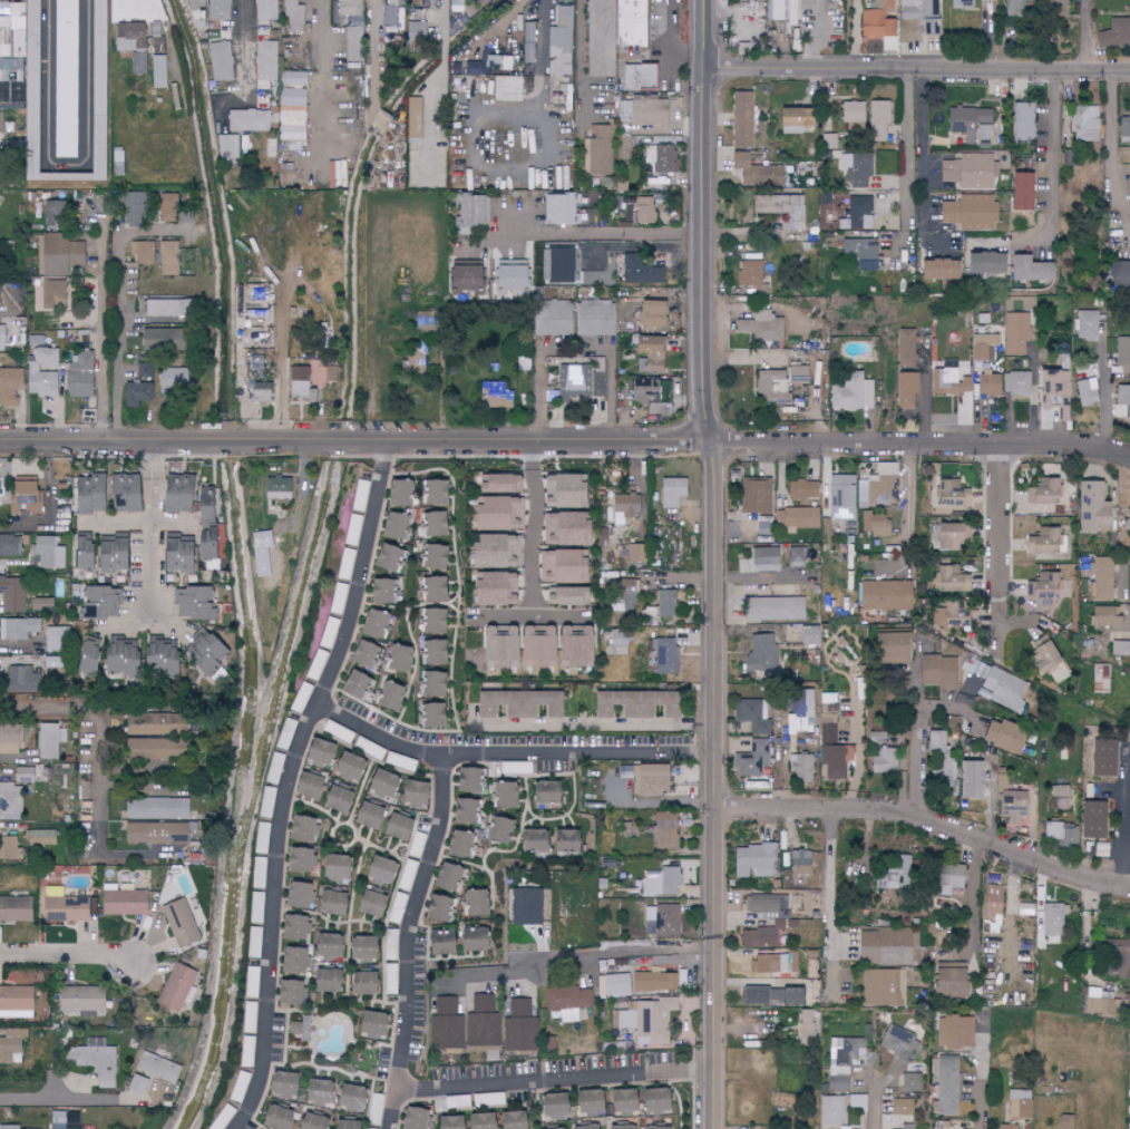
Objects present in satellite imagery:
building: (986, 0)
building: (1055, 1)
building: (961, 3)
building: (189, 4)
building: (351, 4)
building: (1013, 7)
building: (2, 8)
building: (776, 9)
building: (218, 10)
building: (266, 10)
building: (389, 12)
building: (790, 12)
building: (922, 14)
building: (294, 16)
building: (879, 22)
building: (415, 30)
building: (612, 32)
road: (1084, 32)
road: (322, 33)
building: (1114, 35)
building: (157, 38)
building: (562, 41)
building: (353, 43)
building: (133, 45)
road: (668, 45)
road: (246, 47)
road: (372, 52)
road: (540, 57)
building: (489, 59)
building: (266, 60)
building: (220, 61)
road: (581, 65)
road: (916, 66)
building: (474, 68)
building: (158, 71)
building: (637, 76)
building: (66, 78)
building: (26, 79)
building: (295, 79)
building: (499, 88)
road: (435, 90)
building: (803, 90)
building: (92, 98)
building: (647, 111)
building: (850, 111)
building: (292, 115)
road: (477, 115)
building: (413, 117)
building: (741, 119)
building: (877, 119)
building: (249, 120)
building: (792, 120)
building: (1, 121)
building: (965, 121)
building: (1020, 121)
building: (1083, 124)
building: (1124, 126)
building: (984, 133)
building: (829, 142)
building: (228, 146)
building: (624, 147)
building: (600, 150)
road: (919, 155)
road: (1053, 156)
road: (1099, 158)
building: (663, 159)
road: (65, 166)
building: (856, 169)
building: (970, 171)
building: (754, 172)
building: (338, 175)
building: (1090, 178)
building: (1019, 192)
building: (166, 207)
building: (557, 208)
building: (133, 210)
building: (782, 210)
building: (53, 211)
building: (325, 212)
building: (641, 212)
building: (970, 213)
building: (856, 214)
road: (603, 228)
building: (142, 252)
building: (859, 253)
building: (58, 254)
building: (168, 259)
building: (983, 263)
building: (557, 265)
building: (936, 270)
building: (1027, 270)
building: (636, 271)
building: (1121, 275)
building: (508, 276)
building: (461, 279)
building: (751, 279)
building: (51, 294)
road: (120, 305)
building: (163, 308)
building: (649, 313)
building: (553, 318)
building: (593, 319)
building: (1088, 325)
building: (762, 327)
building: (255, 333)
building: (1016, 333)
building: (1, 338)
building: (157, 340)
road: (280, 342)
building: (983, 347)
building: (905, 348)
road: (575, 350)
building: (646, 353)
building: (1122, 356)
building: (412, 362)
building: (523, 363)
building: (33, 370)
building: (144, 371)
building: (797, 374)
building: (79, 376)
building: (598, 378)
building: (173, 380)
building: (575, 380)
building: (952, 382)
building: (301, 383)
building: (988, 383)
building: (1016, 383)
building: (10, 386)
building: (771, 387)
building: (906, 390)
building: (647, 391)
building: (261, 392)
building: (1052, 392)
building: (1085, 392)
building: (136, 393)
building: (850, 393)
building: (494, 396)
building: (1123, 398)
building: (1119, 411)
road: (565, 442)
road: (399, 458)
building: (497, 484)
building: (880, 487)
building: (277, 488)
building: (802, 490)
building: (562, 491)
building: (670, 491)
building: (124, 493)
building: (434, 493)
building: (1042, 493)
building: (175, 494)
building: (397, 494)
building: (948, 494)
building: (22, 495)
building: (88, 495)
building: (756, 495)
building: (842, 497)
building: (202, 503)
road: (908, 503)
building: (623, 508)
building: (1091, 508)
road: (1001, 513)
building: (495, 515)
building: (797, 517)
road: (121, 519)
building: (1126, 519)
building: (763, 522)
building: (432, 524)
road: (157, 525)
building: (877, 526)
building: (392, 527)
road: (535, 528)
building: (563, 528)
building: (947, 536)
building: (1042, 543)
building: (10, 545)
building: (185, 551)
building: (491, 552)
building: (101, 553)
building: (634, 553)
building: (47, 555)
building: (796, 555)
building: (431, 557)
building: (387, 558)
building: (763, 559)
road: (713, 563)
building: (559, 566)
building: (1102, 578)
building: (948, 580)
building: (495, 588)
building: (432, 590)
building: (1042, 590)
building: (379, 591)
building: (629, 593)
building: (13, 595)
building: (886, 595)
building: (564, 596)
building: (100, 603)
building: (664, 603)
building: (41, 604)
building: (193, 604)
building: (773, 609)
road: (997, 613)
building: (947, 615)
road: (536, 616)
building: (1102, 617)
building: (432, 621)
building: (372, 623)
building: (18, 629)
building: (808, 635)
building: (57, 639)
building: (617, 641)
building: (497, 646)
building: (534, 646)
building: (571, 646)
building: (890, 646)
building: (431, 652)
building: (203, 654)
building: (361, 654)
building: (761, 654)
building: (1042, 654)
building: (85, 655)
building: (158, 656)
building: (665, 656)
building: (119, 658)
building: (397, 659)
building: (937, 671)
building: (1058, 673)
building: (1100, 679)
building: (20, 680)
building: (352, 684)
building: (432, 684)
building: (997, 687)
building: (387, 697)
building: (827, 703)
building: (517, 704)
building: (634, 704)
building: (801, 709)
building: (430, 716)
building: (752, 716)
building: (150, 724)
building: (827, 728)
road: (916, 736)
building: (999, 736)
building: (878, 737)
building: (10, 738)
building: (49, 744)
building: (1017, 746)
building: (153, 749)
building: (320, 752)
road: (684, 752)
road: (481, 753)
building: (1103, 758)
building: (753, 759)
building: (834, 761)
building: (886, 761)
road: (99, 766)
building: (348, 767)
building: (800, 767)
building: (22, 775)
building: (467, 780)
building: (650, 780)
building: (968, 780)
building: (981, 784)
building: (308, 786)
building: (399, 789)
building: (540, 792)
road: (286, 794)
building: (501, 796)
building: (1059, 798)
building: (1010, 799)
building: (9, 800)
building: (335, 800)
building: (266, 802)
building: (155, 808)
building: (464, 811)
building: (378, 820)
building: (1093, 820)
road: (925, 821)
road: (1122, 827)
building: (304, 829)
building: (497, 831)
building: (663, 831)
building: (155, 834)
building: (1062, 835)
building: (40, 838)
building: (262, 838)
building: (548, 841)
building: (417, 845)
building: (459, 845)
building: (9, 848)
building: (298, 860)
building: (754, 862)
building: (798, 863)
building: (335, 867)
building: (379, 870)
building: (259, 873)
building: (894, 875)
building: (447, 877)
building: (946, 878)
building: (295, 896)
road: (972, 896)
road: (830, 897)
building: (121, 901)
building: (991, 901)
building: (331, 904)
building: (370, 904)
building: (474, 904)
building: (62, 906)
building: (257, 907)
building: (525, 907)
building: (16, 908)
building: (440, 908)
building: (662, 919)
building: (1051, 919)
building: (179, 923)
building: (785, 924)
building: (293, 927)
road: (408, 940)
building: (470, 941)
building: (254, 942)
building: (441, 944)
building: (391, 945)
building: (327, 946)
building: (888, 946)
building: (360, 948)
road: (575, 953)
road: (69, 956)
building: (1118, 957)
building: (292, 961)
building: (770, 964)
building: (390, 979)
building: (949, 979)
building: (325, 981)
building: (253, 982)
building: (662, 982)
building: (360, 984)
building: (613, 985)
building: (885, 987)
building: (176, 989)
building: (288, 993)
building: (770, 996)
building: (80, 1000)
building: (16, 1002)
building: (566, 1002)
building: (1100, 1002)
building: (647, 1020)
building: (369, 1025)
building: (446, 1025)
building: (805, 1025)
building: (519, 1028)
building: (300, 1029)
building: (955, 1032)
building: (483, 1035)
building: (549, 1044)
building: (899, 1044)
building: (11, 1045)
building: (96, 1061)
building: (840, 1061)
building: (156, 1068)
road: (678, 1072)
building: (1128, 1080)
road: (520, 1081)
road: (978, 1081)
building: (909, 1082)
building: (137, 1084)
building: (281, 1084)
building: (944, 1087)
road: (52, 1088)
road: (876, 1093)
building: (332, 1096)
road: (59, 1100)
building: (637, 1101)
building: (856, 1102)
building: (587, 1103)
building: (1020, 1104)
building: (549, 1106)
building: (902, 1107)
building: (374, 1110)
building: (830, 1111)
building: (411, 1119)
building: (289, 1120)
building: (478, 1121)
building: (1064, 1122)
building: (889, 1123)
building: (9, 1127)
building: (1006, 1127)
building: (364, 1128)
building: (586, 1128)
building: (629, 1128)

